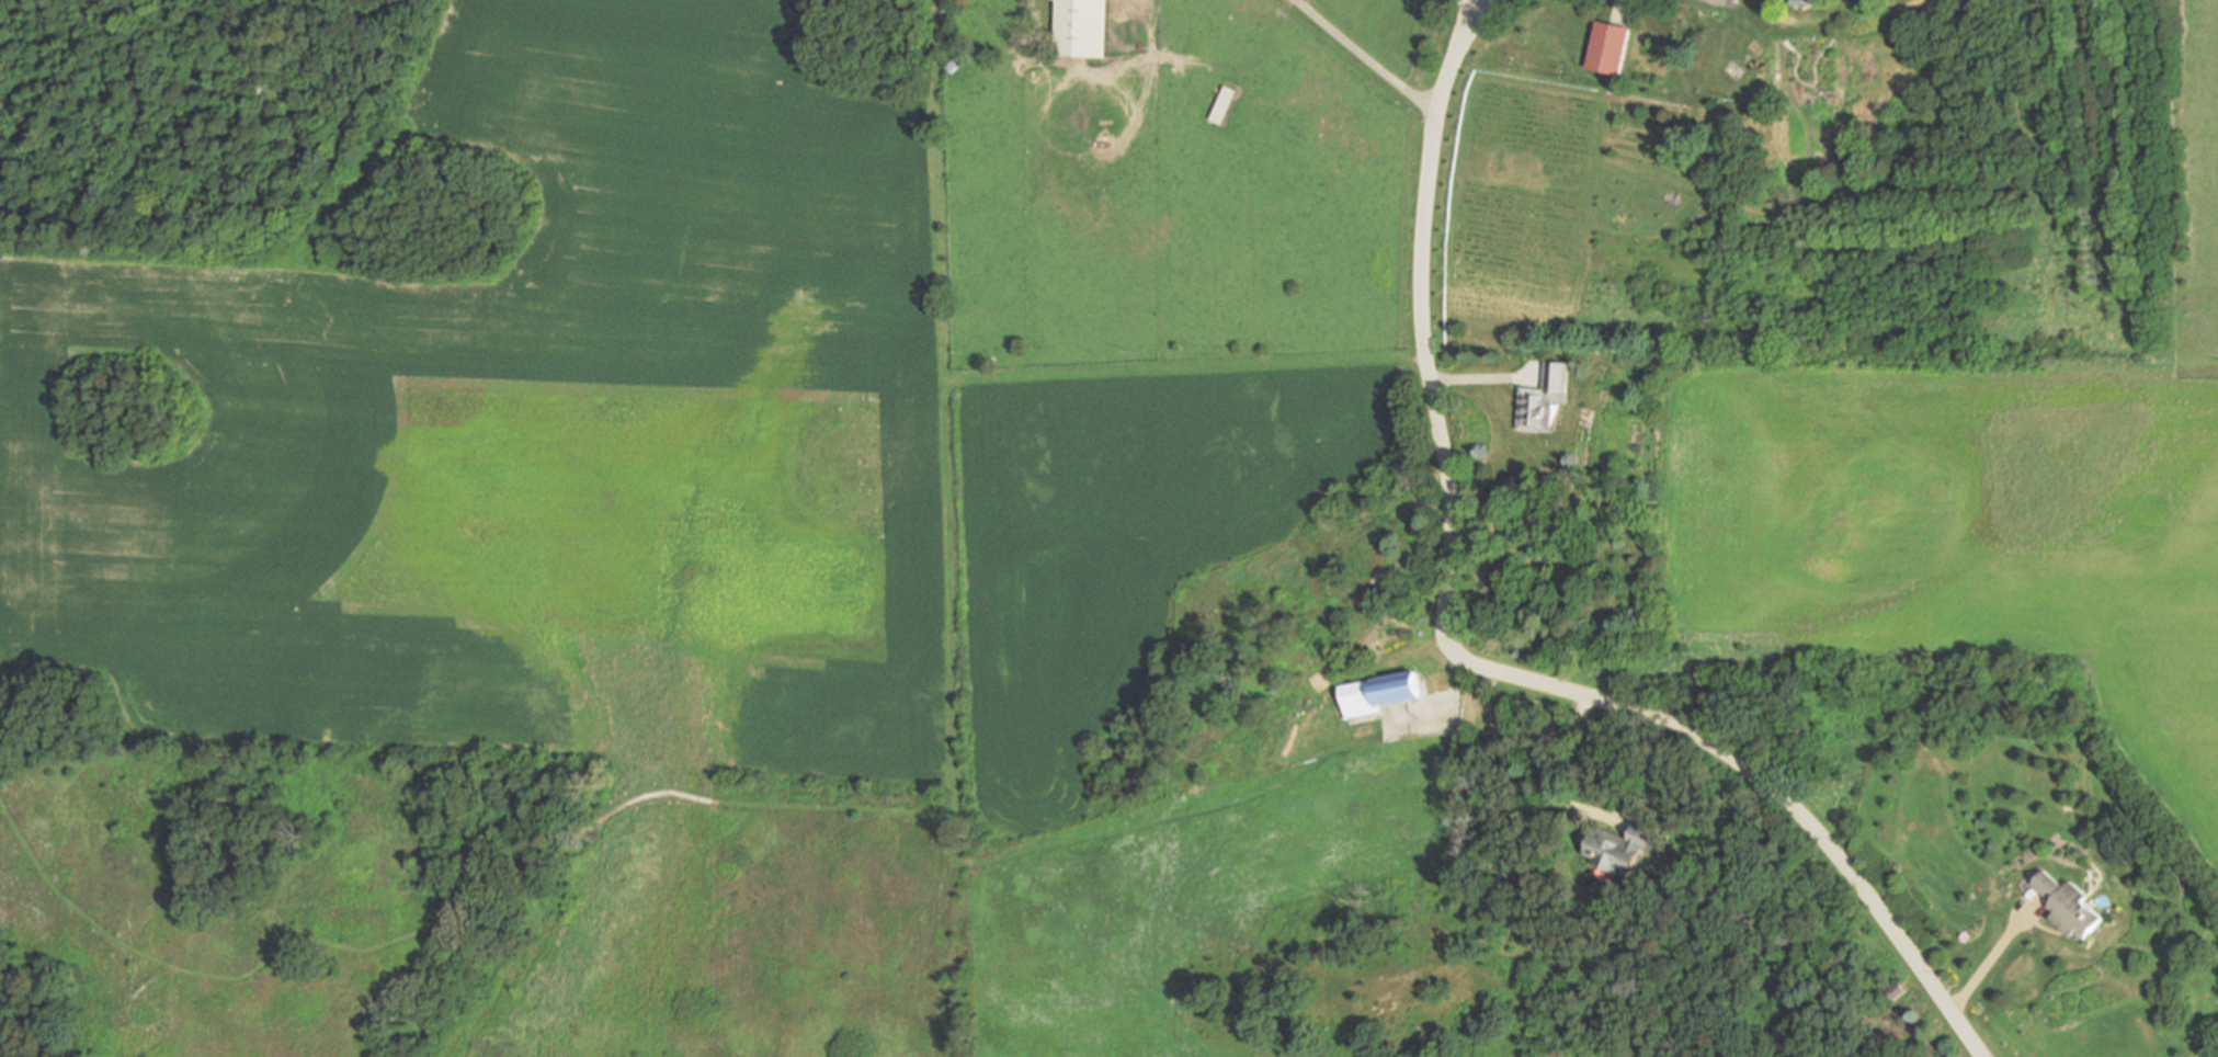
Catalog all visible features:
building: (1804, 2)
building: (1082, 26)
building: (1610, 48)
building: (1724, 54)
road: (1454, 56)
road: (1367, 57)
building: (954, 66)
building: (1225, 104)
building: (1545, 397)
building: (1353, 658)
road: (1524, 679)
building: (1379, 693)
road: (1552, 757)
building: (1619, 846)
building: (2068, 903)
road: (1989, 957)
building: (1897, 991)

